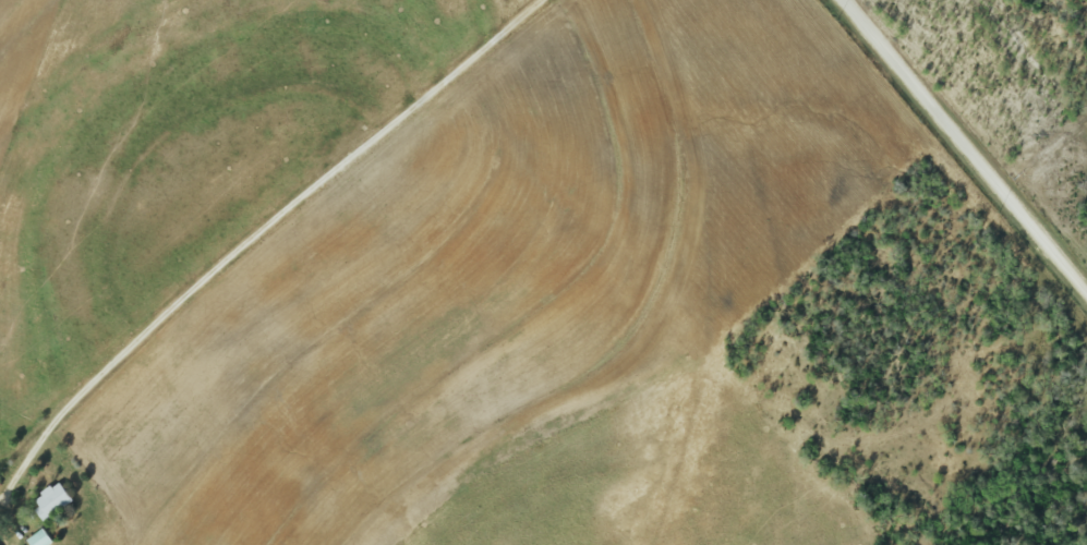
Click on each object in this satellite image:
road: (969, 140)
road: (253, 234)
building: (51, 500)
building: (39, 538)

